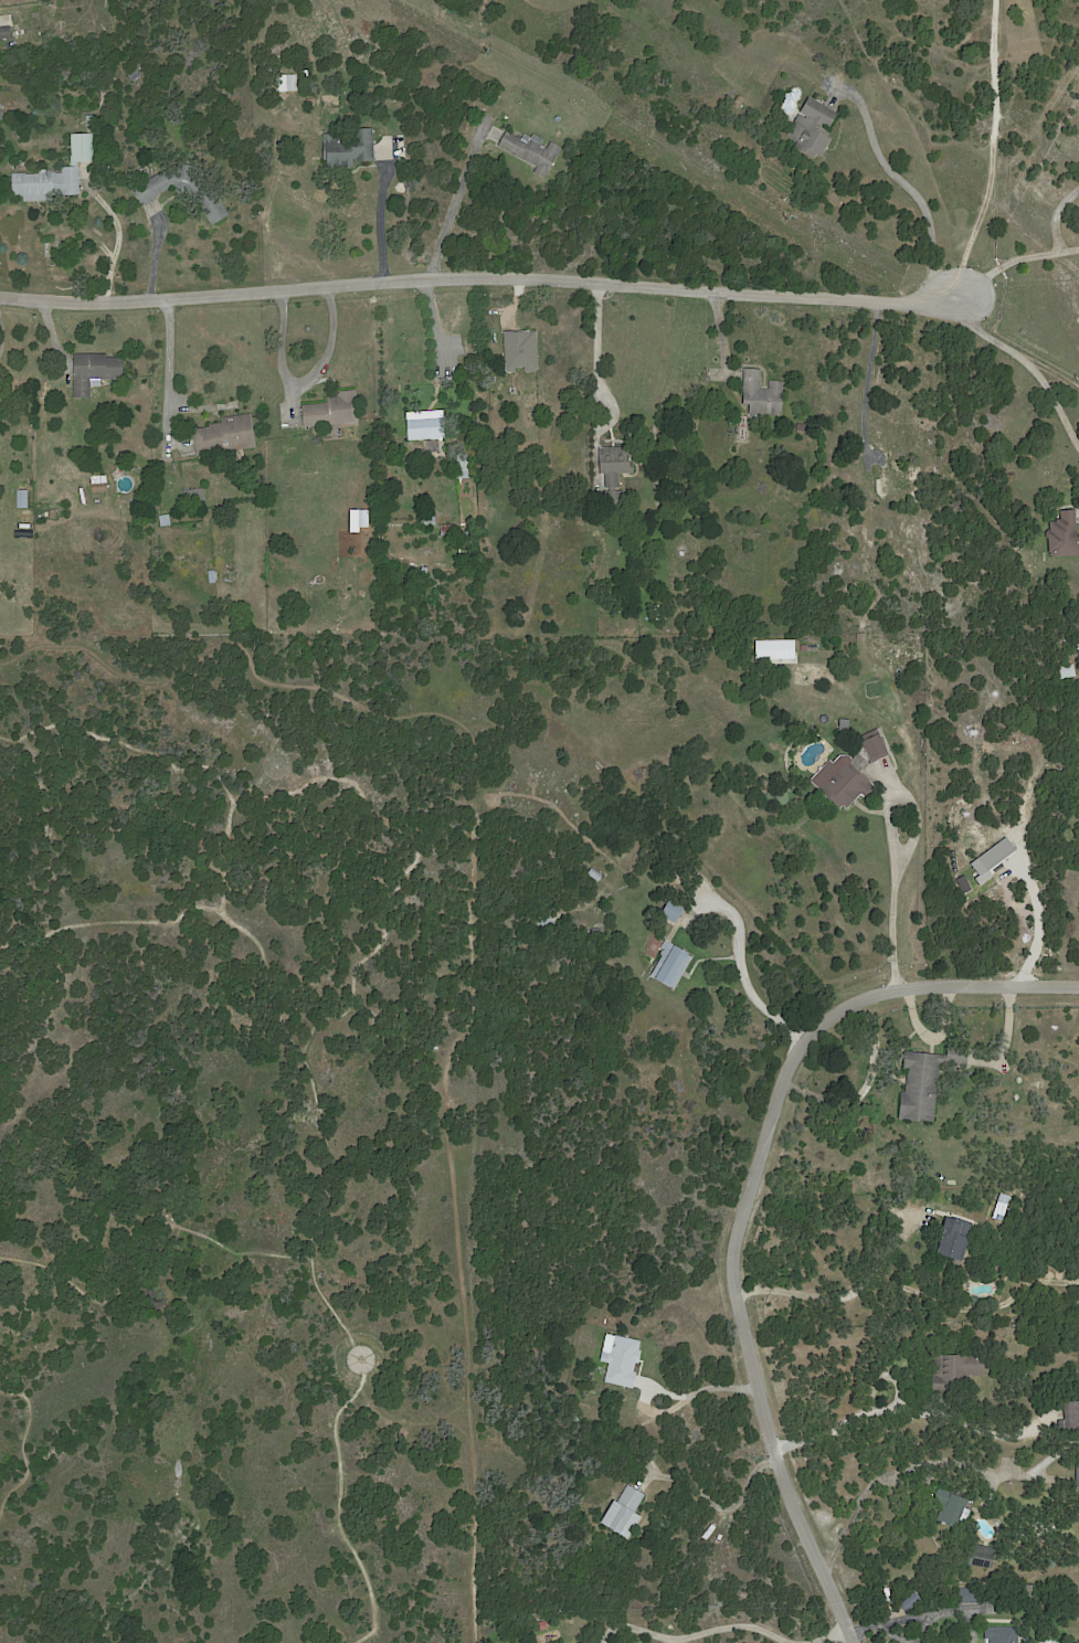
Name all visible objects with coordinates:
building: (6, 32)
power tower: (485, 52)
building: (136, 74)
building: (381, 78)
building: (293, 83)
building: (738, 102)
building: (311, 103)
building: (92, 119)
building: (814, 128)
building: (351, 148)
building: (533, 149)
road: (995, 150)
building: (57, 174)
road: (918, 188)
building: (149, 194)
road: (1057, 214)
power tower: (785, 218)
road: (387, 230)
road: (1068, 248)
road: (157, 252)
road: (1005, 263)
road: (435, 279)
road: (917, 297)
building: (522, 349)
road: (603, 349)
road: (1027, 362)
building: (96, 372)
road: (166, 373)
road: (870, 373)
power tower: (1075, 380)
road: (308, 382)
building: (764, 394)
building: (334, 410)
building: (429, 426)
building: (801, 428)
building: (226, 435)
building: (466, 465)
building: (614, 470)
building: (99, 484)
building: (893, 484)
building: (197, 495)
building: (25, 498)
building: (54, 515)
building: (364, 517)
building: (166, 519)
building: (427, 519)
building: (449, 529)
building: (1062, 536)
building: (426, 569)
building: (214, 575)
building: (791, 649)
building: (1075, 650)
building: (1069, 671)
road: (212, 721)
building: (846, 725)
building: (875, 746)
road: (172, 767)
building: (848, 783)
road: (420, 842)
building: (596, 875)
road: (896, 887)
building: (674, 911)
building: (546, 920)
road: (468, 939)
building: (671, 964)
road: (268, 966)
road: (744, 972)
building: (927, 1080)
park: (245, 1141)
road: (747, 1200)
road: (152, 1218)
building: (999, 1221)
building: (956, 1237)
road: (810, 1292)
road: (977, 1305)
road: (334, 1312)
building: (1016, 1325)
building: (624, 1360)
building: (955, 1370)
road: (708, 1387)
road: (908, 1404)
building: (1071, 1414)
road: (18, 1440)
road: (929, 1463)
building: (1077, 1469)
road: (336, 1504)
road: (721, 1507)
building: (952, 1509)
building: (623, 1514)
building: (980, 1556)
building: (1054, 1561)
road: (886, 1577)
building: (1029, 1587)
building: (974, 1597)
road: (907, 1615)
road: (731, 1625)
building: (540, 1628)
road: (827, 1634)
building: (1003, 1634)
building: (580, 1641)
building: (584, 1642)

